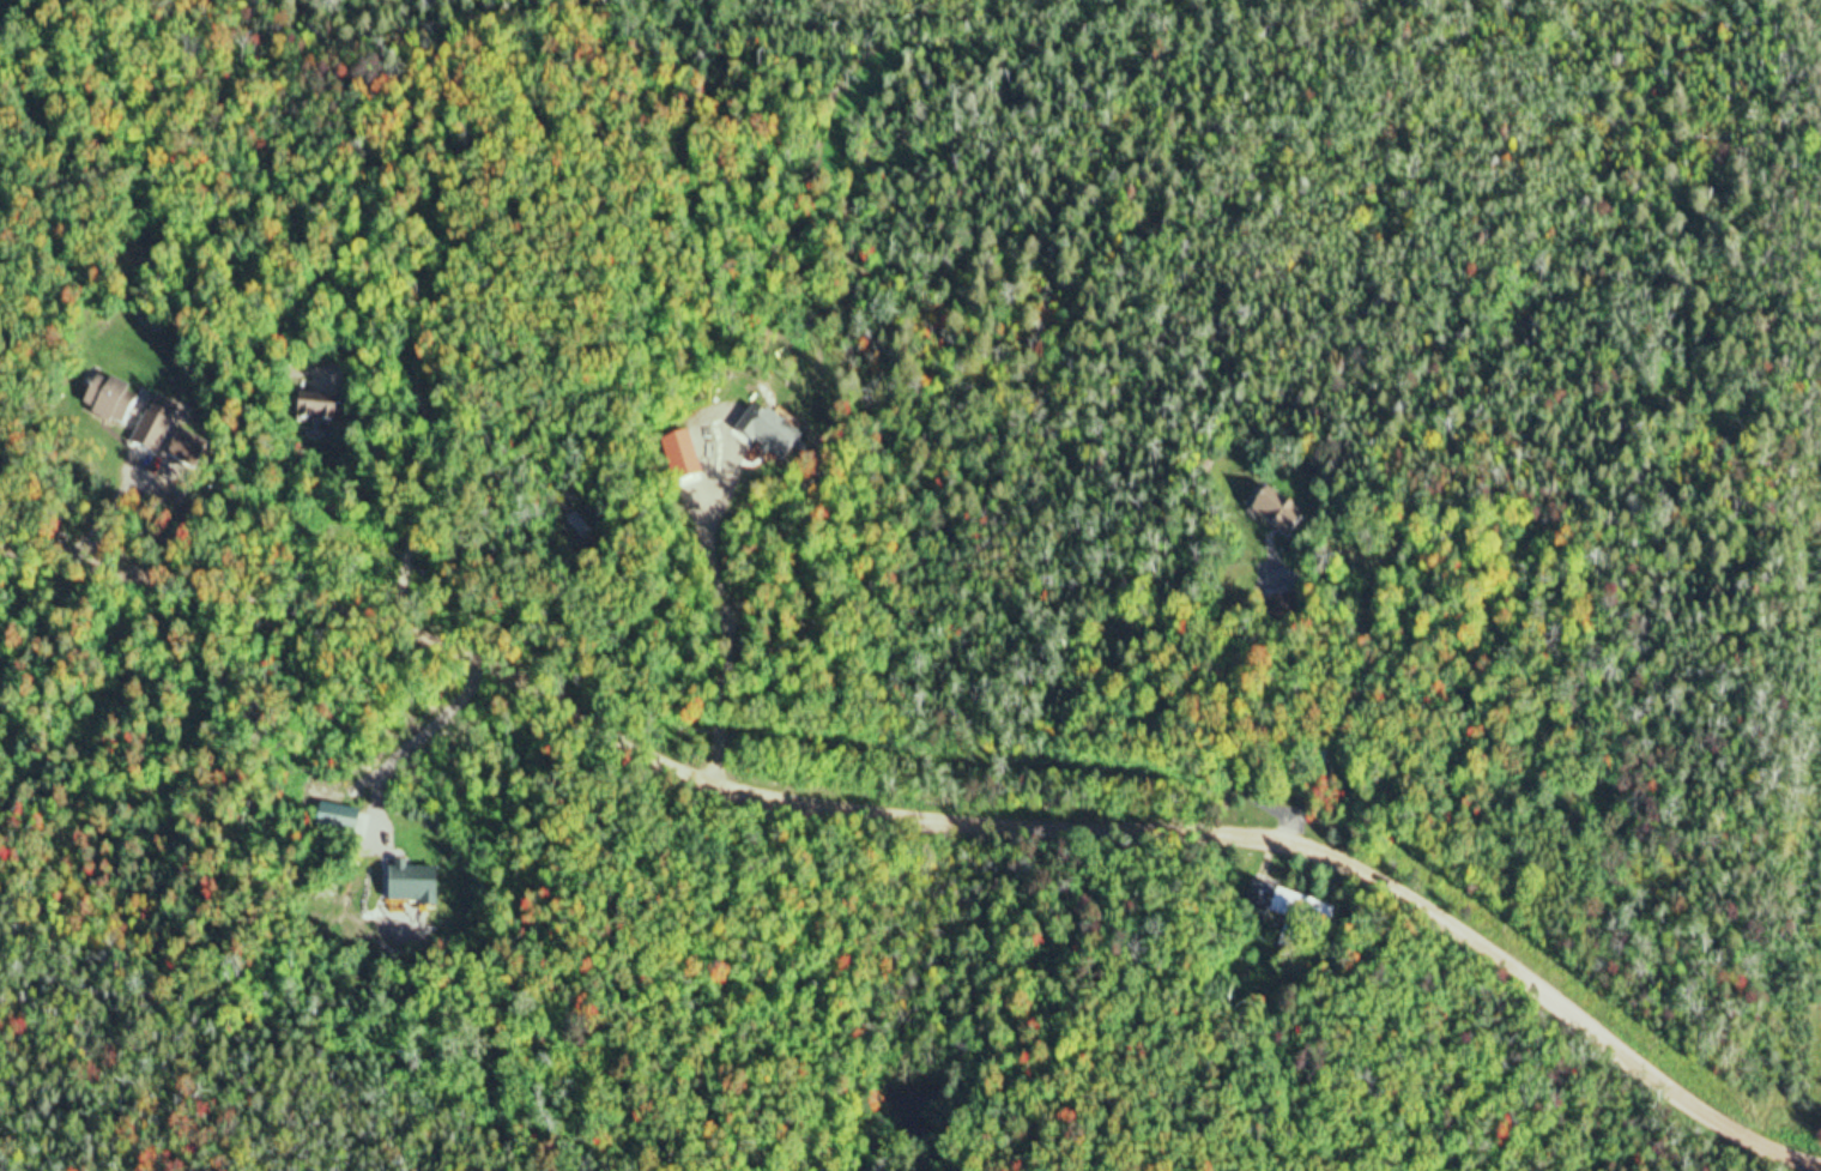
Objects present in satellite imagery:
building: (119, 405)
building: (323, 414)
building: (156, 437)
road: (416, 458)
building: (1289, 520)
building: (1290, 612)
building: (356, 826)
road: (919, 838)
building: (421, 892)
building: (1295, 911)

